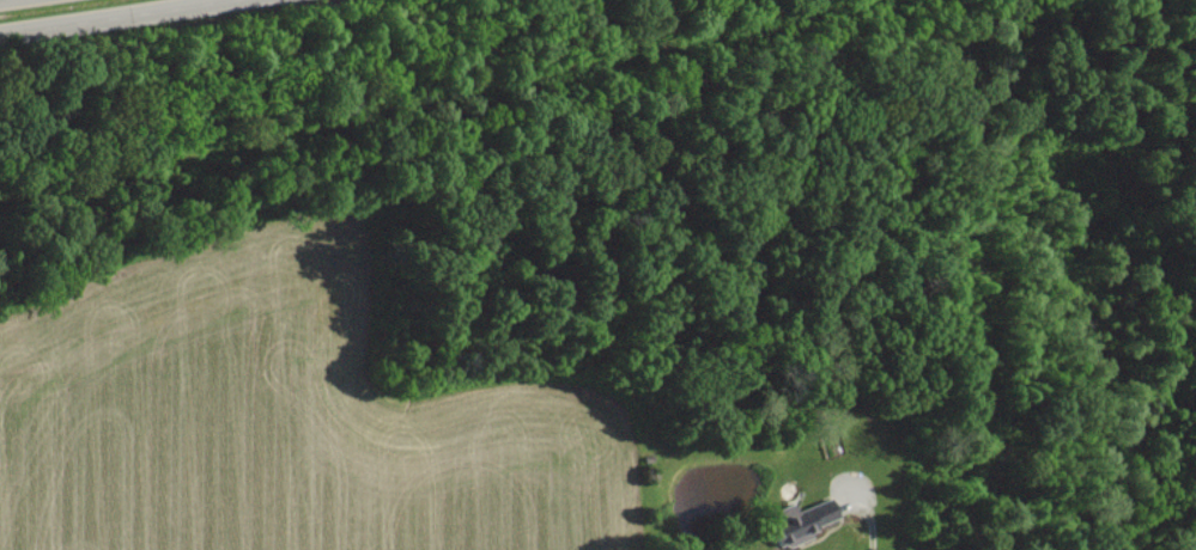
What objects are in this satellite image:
road: (99, 14)
road: (878, 512)
building: (806, 518)

